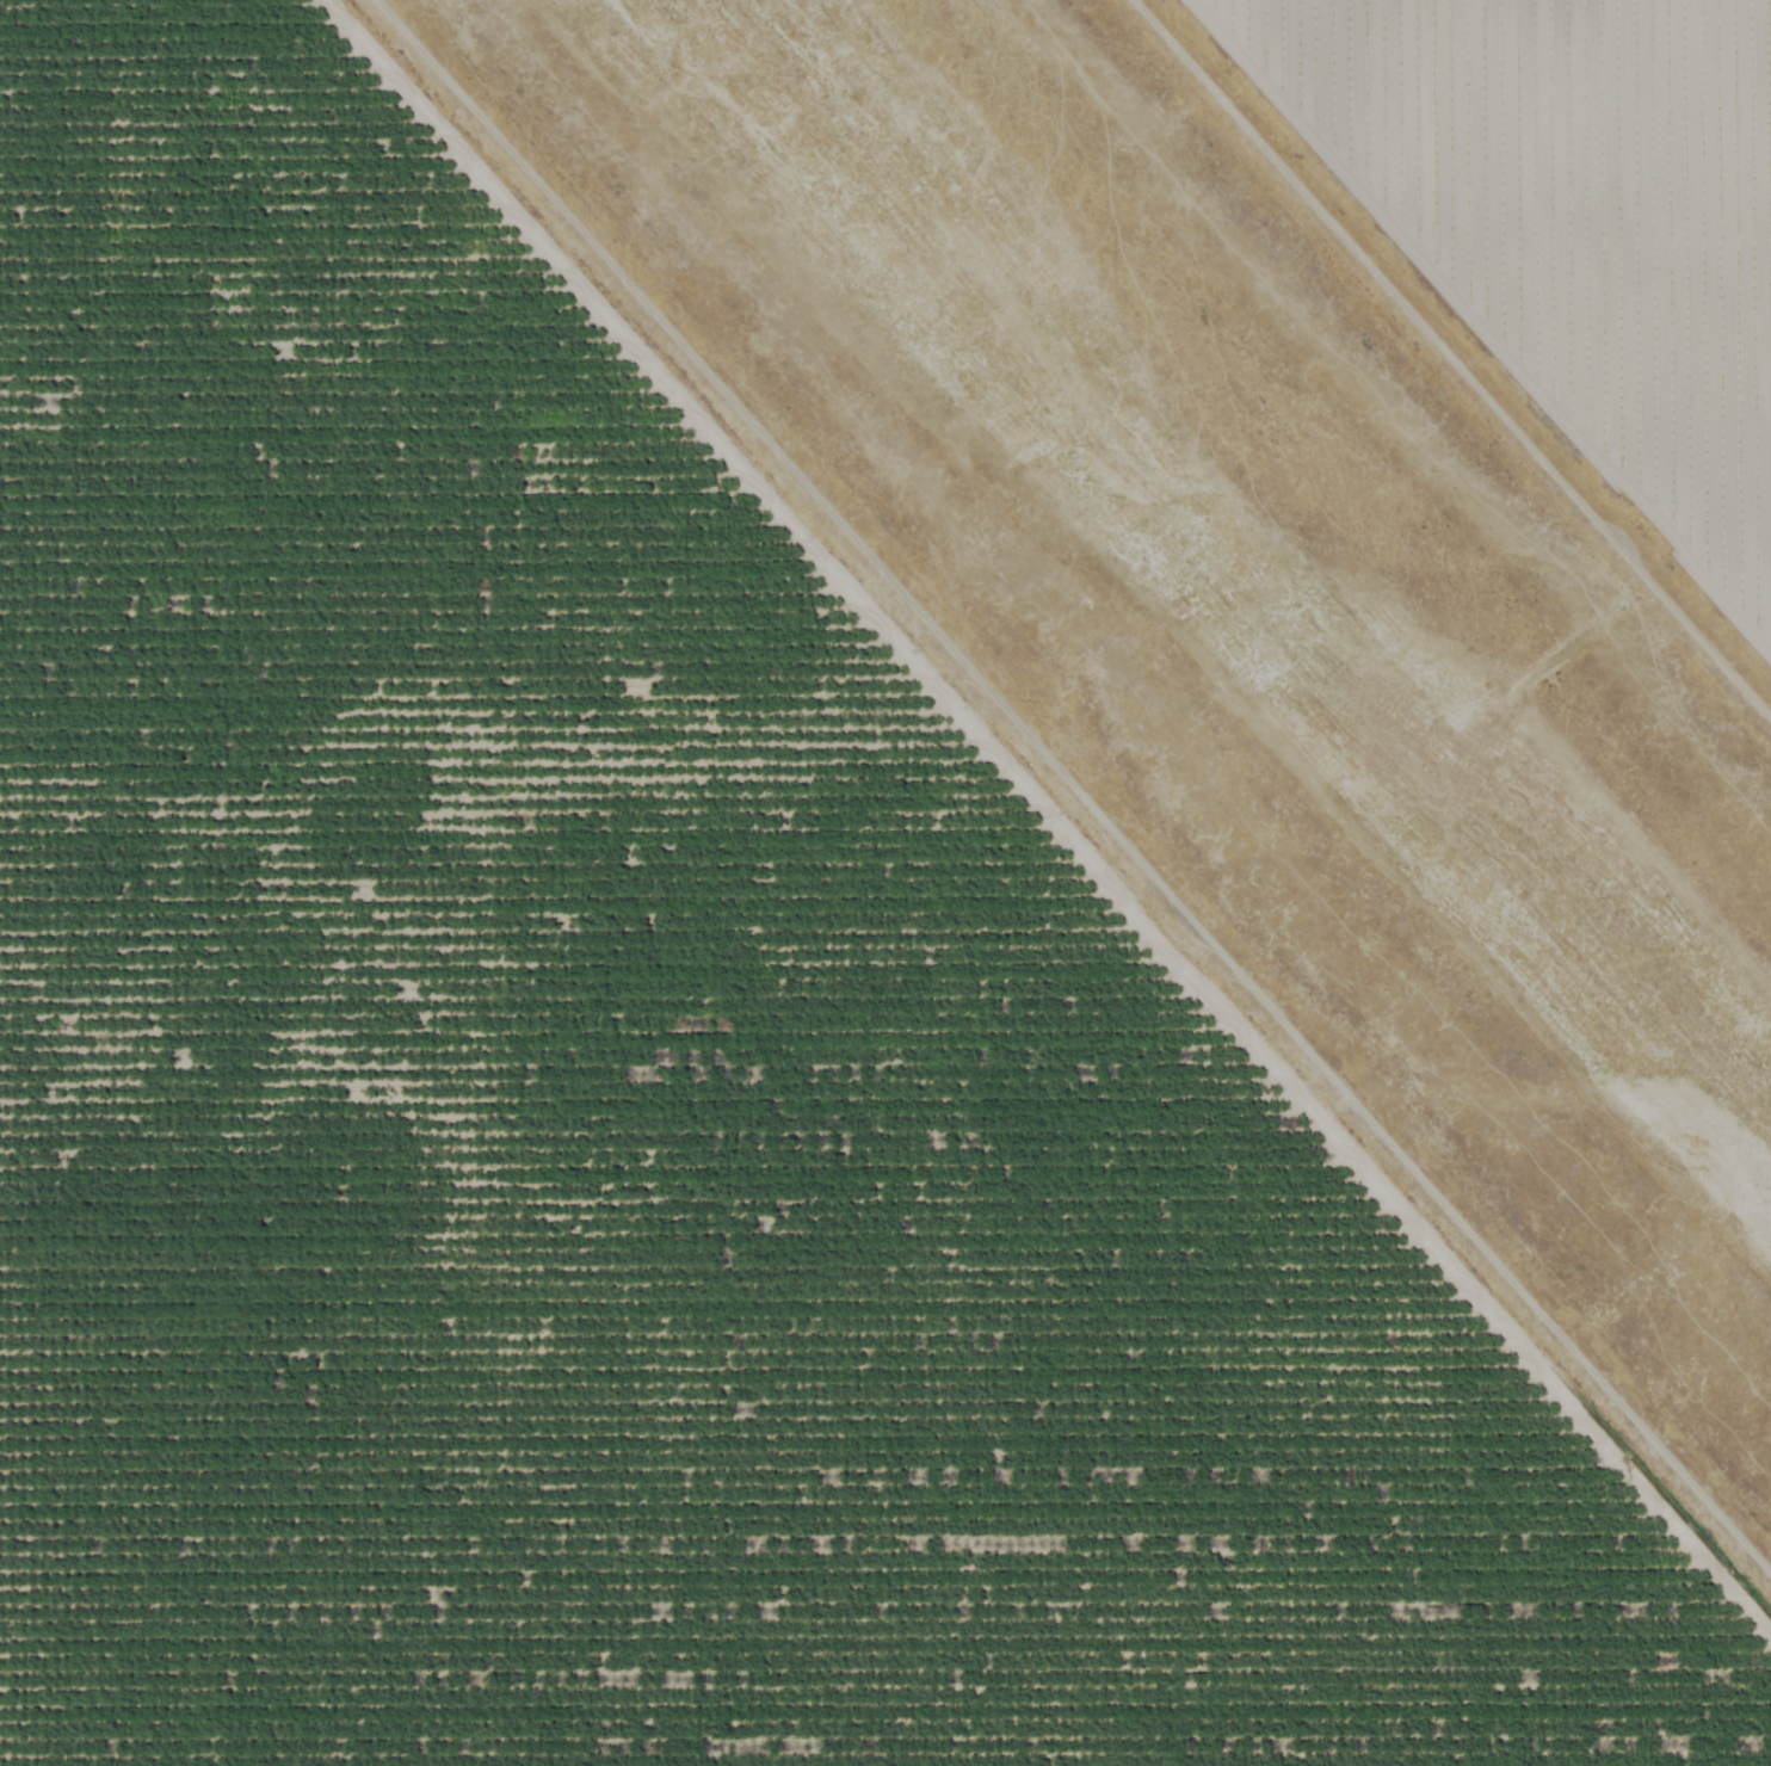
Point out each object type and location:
crop: (1568, 231)
crop: (650, 1080)

